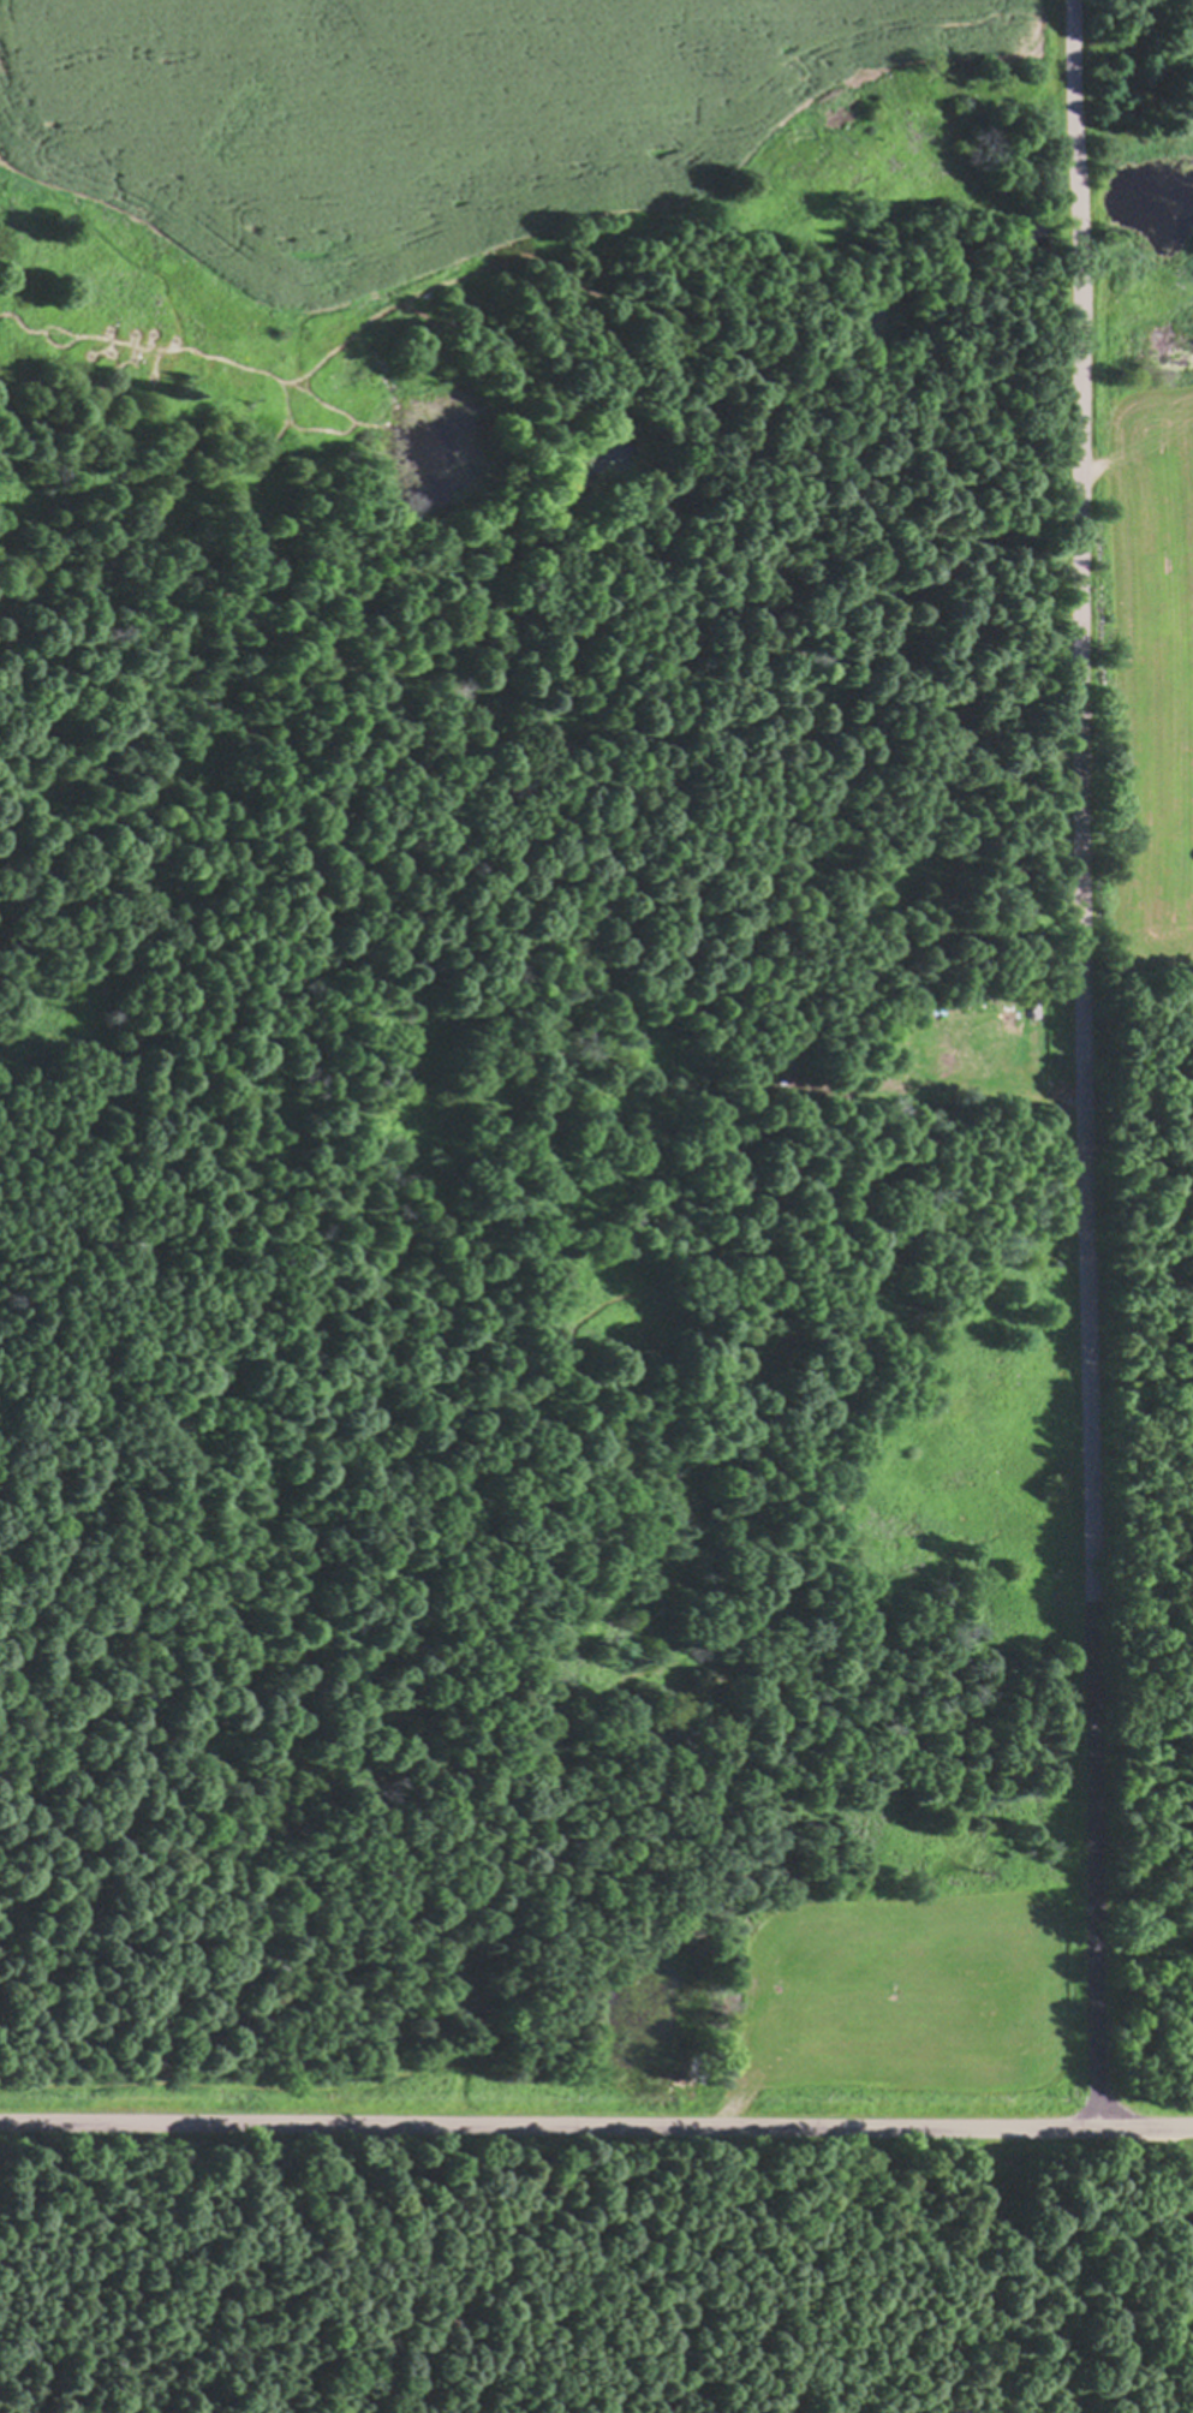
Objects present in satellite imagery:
road: (1086, 1062)
road: (596, 2123)

